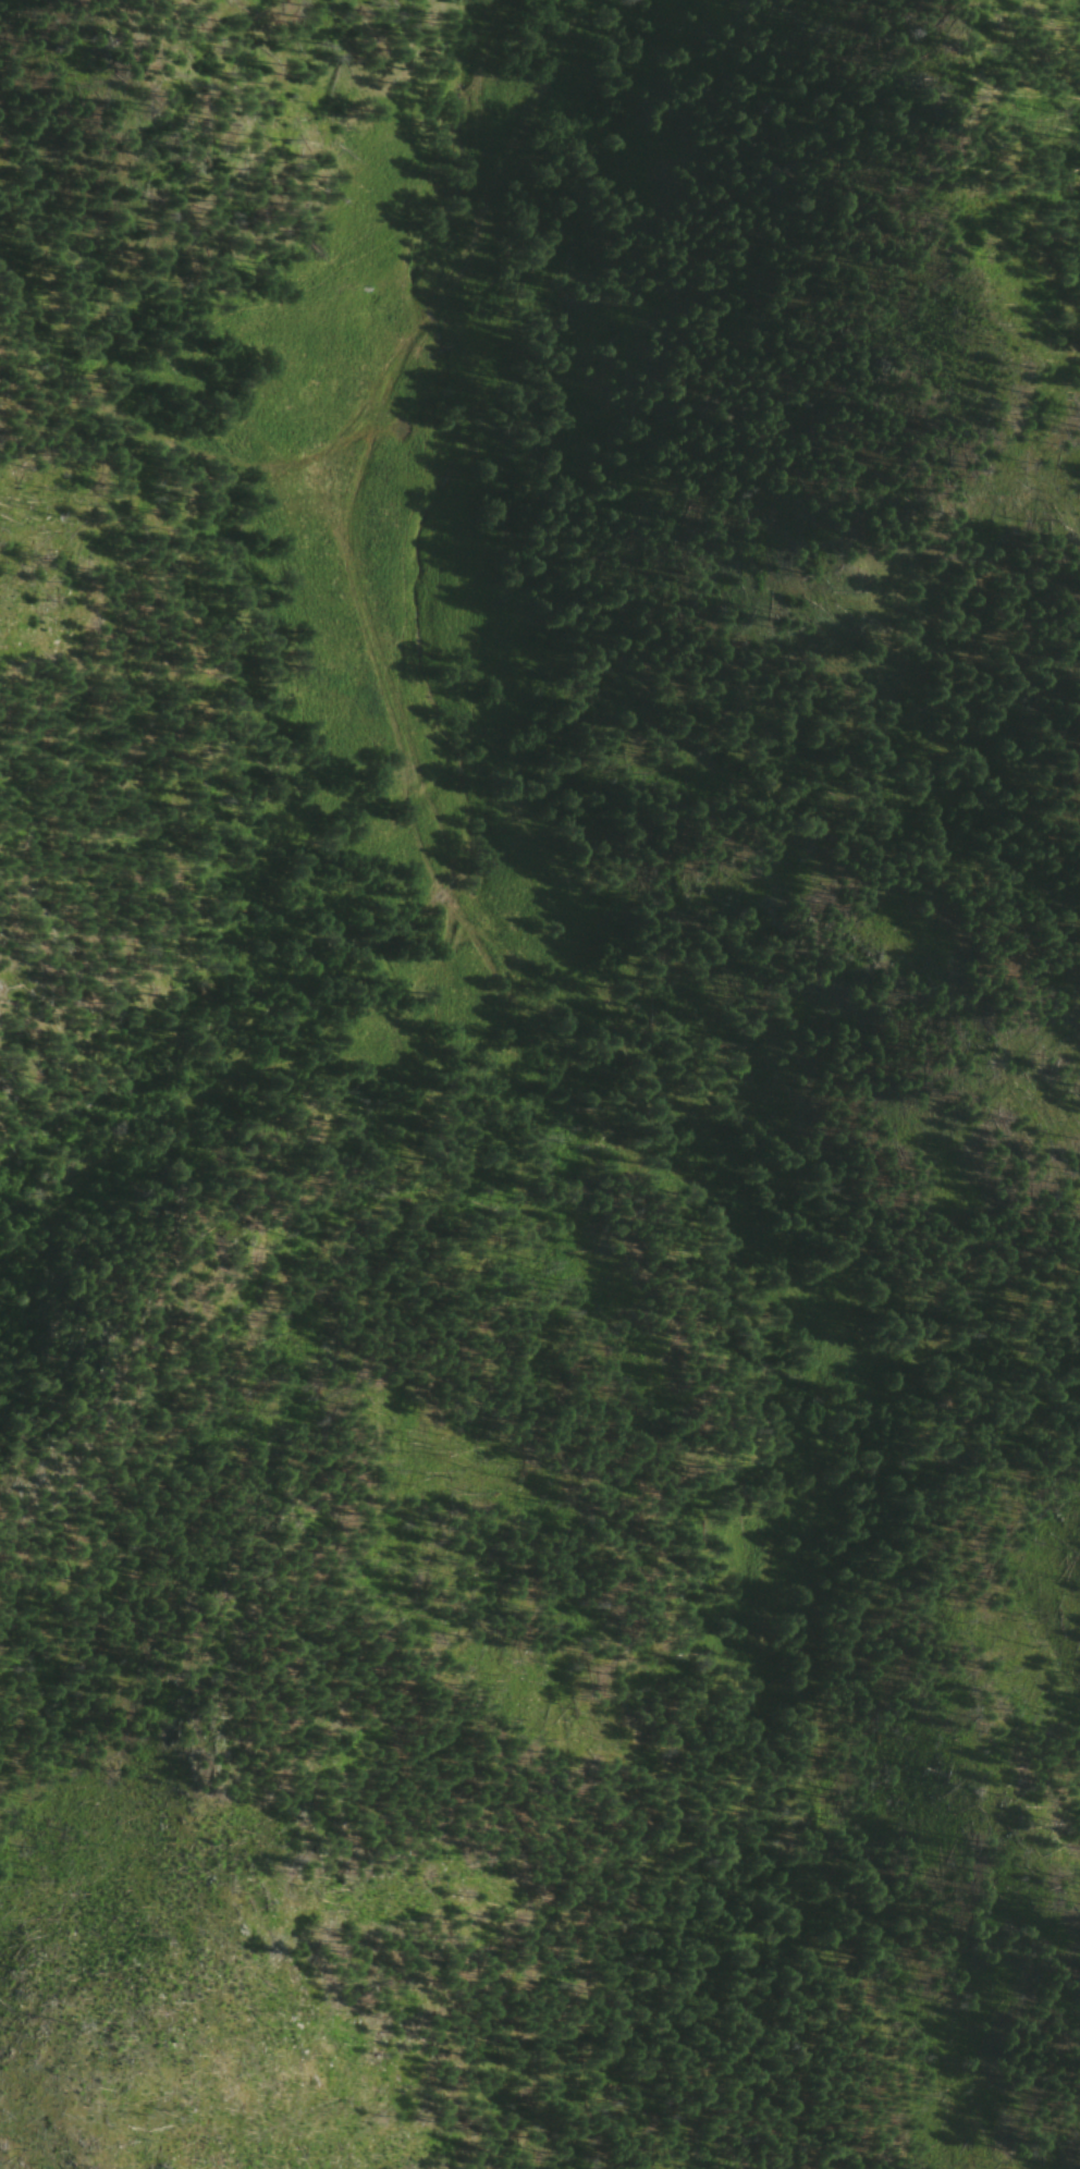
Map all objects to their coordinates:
road: (519, 134)

